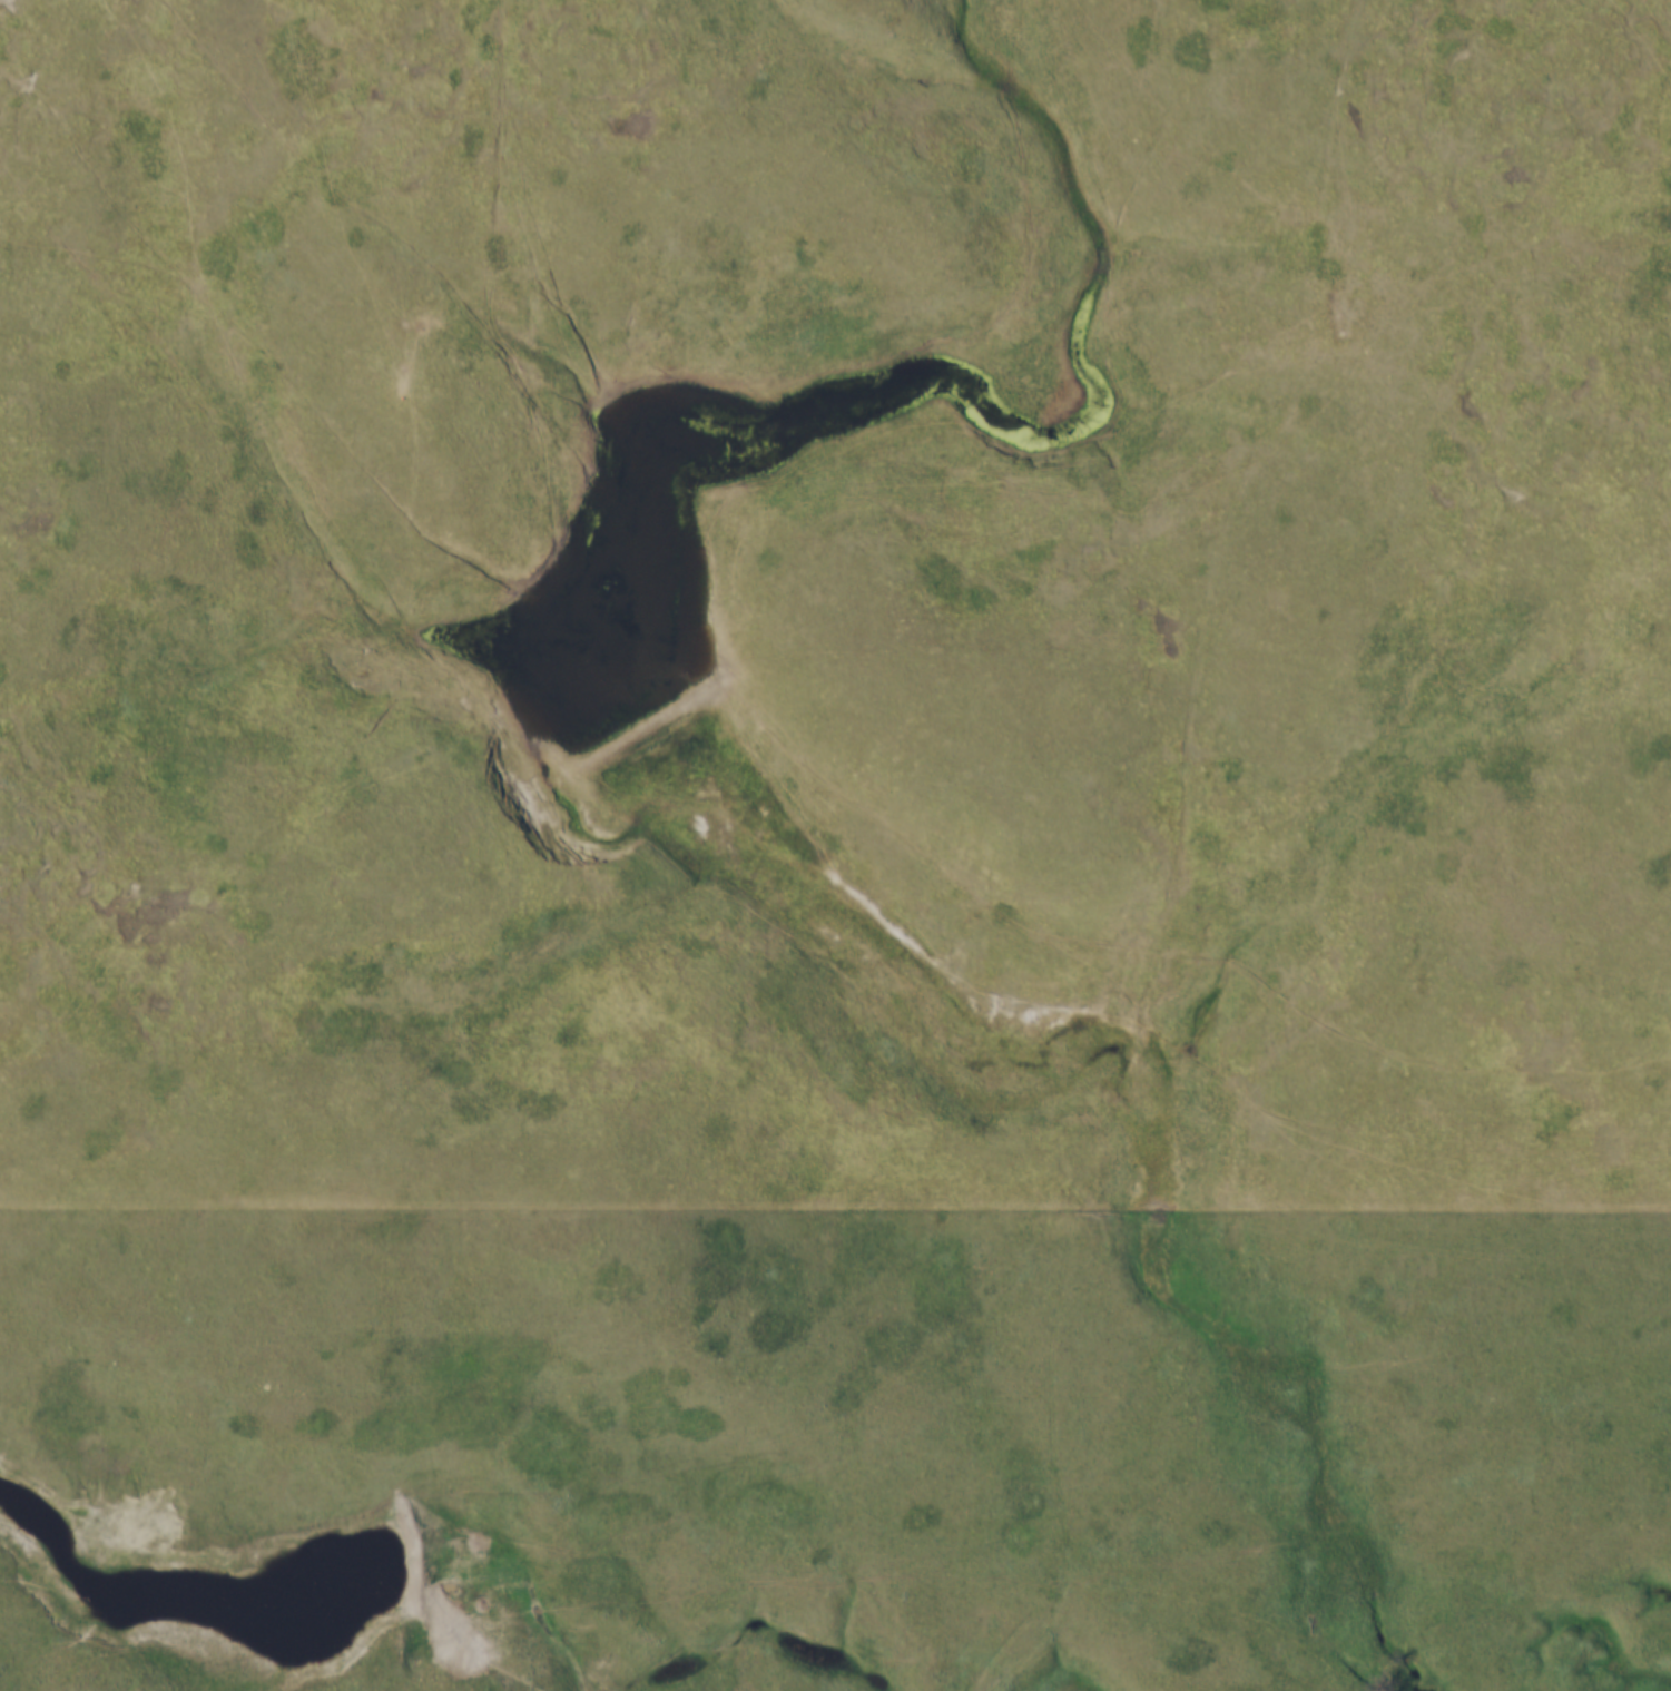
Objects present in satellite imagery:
dam: (647, 701)

